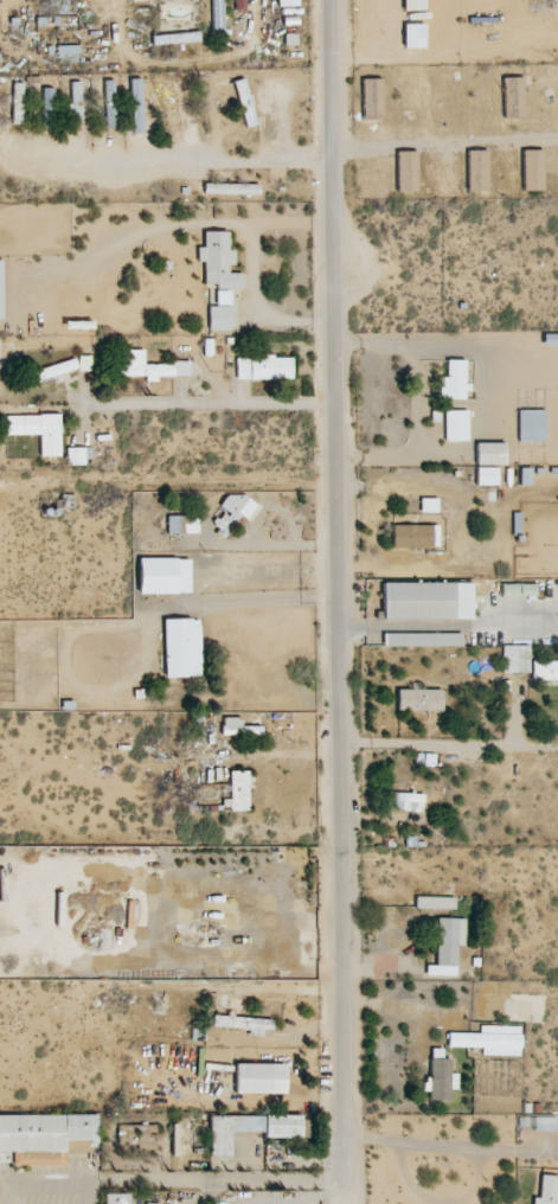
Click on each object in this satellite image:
building: (286, 0)
building: (413, 5)
building: (217, 17)
road: (400, 18)
building: (175, 38)
building: (62, 50)
road: (192, 72)
building: (513, 97)
building: (372, 98)
building: (76, 102)
building: (245, 102)
building: (17, 103)
building: (109, 103)
building: (171, 104)
building: (136, 105)
building: (47, 108)
road: (445, 137)
building: (532, 169)
building: (406, 171)
building: (476, 171)
building: (231, 188)
building: (218, 261)
building: (1, 289)
building: (223, 297)
building: (219, 318)
building: (148, 366)
building: (263, 367)
building: (53, 372)
building: (453, 380)
road: (209, 403)
building: (456, 424)
building: (531, 425)
building: (38, 430)
building: (490, 453)
building: (77, 455)
building: (487, 476)
building: (230, 513)
building: (178, 524)
road: (449, 526)
building: (415, 536)
building: (163, 576)
building: (515, 589)
road: (340, 595)
building: (426, 601)
building: (422, 639)
building: (181, 647)
building: (515, 658)
building: (545, 670)
building: (419, 699)
building: (238, 728)
road: (450, 747)
building: (237, 790)
building: (403, 801)
building: (434, 902)
building: (447, 946)
building: (244, 1024)
building: (489, 1039)
building: (441, 1076)
building: (259, 1077)
building: (540, 1122)
building: (283, 1126)
building: (229, 1131)
building: (136, 1135)
building: (45, 1136)
road: (450, 1146)
road: (58, 1177)
road: (2, 1190)
building: (547, 1190)
building: (115, 1198)

